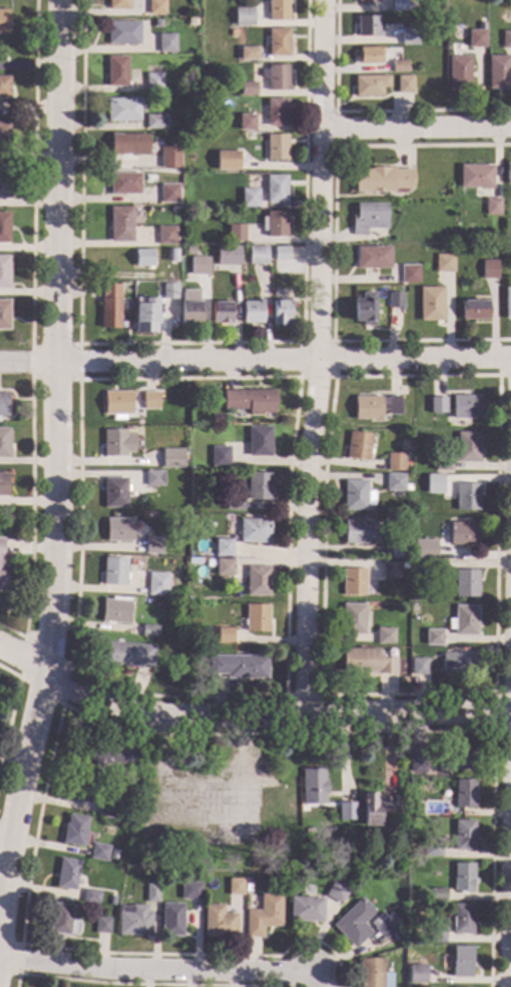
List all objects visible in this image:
building: (368, 1)
building: (118, 4)
building: (399, 5)
building: (438, 6)
building: (156, 7)
building: (277, 9)
building: (243, 16)
building: (3, 21)
building: (367, 25)
building: (233, 32)
building: (122, 33)
building: (409, 35)
building: (476, 38)
building: (506, 39)
building: (167, 42)
building: (278, 42)
building: (248, 53)
building: (368, 55)
building: (399, 65)
building: (116, 70)
building: (498, 71)
building: (458, 72)
building: (276, 77)
building: (154, 82)
building: (370, 84)
building: (404, 84)
building: (4, 86)
building: (248, 88)
building: (122, 109)
building: (276, 111)
building: (155, 120)
building: (246, 121)
road: (416, 128)
building: (3, 131)
building: (128, 143)
building: (276, 146)
building: (168, 157)
building: (227, 160)
building: (194, 165)
building: (508, 173)
building: (475, 176)
building: (382, 179)
building: (4, 181)
building: (124, 183)
building: (275, 188)
building: (168, 193)
building: (249, 197)
building: (491, 205)
building: (174, 208)
building: (369, 218)
building: (120, 223)
building: (274, 223)
building: (4, 227)
building: (235, 232)
building: (166, 235)
building: (189, 250)
building: (280, 253)
building: (171, 254)
building: (257, 254)
building: (227, 255)
building: (142, 257)
building: (372, 257)
building: (170, 262)
building: (444, 262)
building: (198, 265)
building: (489, 269)
building: (5, 271)
building: (409, 273)
building: (169, 291)
building: (395, 299)
building: (431, 303)
building: (507, 303)
building: (109, 305)
building: (190, 306)
building: (364, 309)
building: (474, 309)
building: (252, 311)
building: (280, 311)
building: (220, 313)
building: (4, 314)
building: (145, 315)
road: (318, 357)
road: (255, 359)
building: (150, 400)
building: (249, 400)
building: (3, 404)
building: (117, 404)
building: (437, 404)
building: (375, 406)
building: (464, 406)
building: (258, 440)
building: (116, 442)
building: (4, 443)
building: (357, 445)
building: (467, 446)
road: (56, 456)
building: (219, 456)
building: (172, 458)
building: (395, 461)
building: (442, 461)
building: (154, 478)
building: (438, 481)
building: (394, 482)
building: (3, 483)
building: (258, 486)
building: (406, 486)
building: (115, 491)
building: (356, 495)
building: (466, 496)
building: (234, 503)
building: (119, 529)
building: (254, 531)
building: (358, 532)
building: (462, 533)
building: (153, 545)
building: (222, 547)
building: (397, 549)
building: (429, 550)
building: (403, 564)
building: (2, 565)
building: (223, 567)
building: (434, 568)
building: (390, 569)
building: (113, 571)
building: (254, 581)
building: (353, 581)
building: (465, 582)
building: (157, 583)
building: (372, 584)
building: (367, 592)
building: (115, 610)
building: (256, 617)
building: (352, 618)
building: (463, 620)
building: (149, 630)
road: (12, 631)
building: (223, 635)
building: (384, 635)
building: (433, 637)
building: (155, 651)
building: (125, 654)
building: (366, 661)
building: (457, 664)
building: (239, 666)
building: (417, 666)
road: (10, 672)
building: (333, 673)
road: (62, 702)
road: (247, 715)
building: (108, 754)
building: (459, 759)
building: (417, 763)
road: (198, 784)
building: (82, 786)
building: (464, 793)
building: (300, 806)
building: (377, 806)
building: (107, 808)
building: (346, 813)
road: (228, 826)
building: (73, 829)
building: (463, 834)
road: (4, 838)
building: (138, 842)
building: (431, 847)
building: (99, 852)
building: (200, 856)
building: (66, 874)
building: (462, 877)
building: (234, 887)
building: (246, 888)
building: (189, 890)
building: (336, 891)
building: (151, 892)
building: (437, 894)
building: (90, 896)
building: (111, 900)
building: (305, 909)
building: (263, 915)
building: (462, 918)
building: (60, 919)
building: (170, 919)
building: (133, 920)
building: (217, 922)
building: (354, 922)
building: (384, 924)
building: (102, 925)
building: (436, 934)
building: (461, 961)
road: (157, 973)
building: (371, 973)
building: (416, 973)

